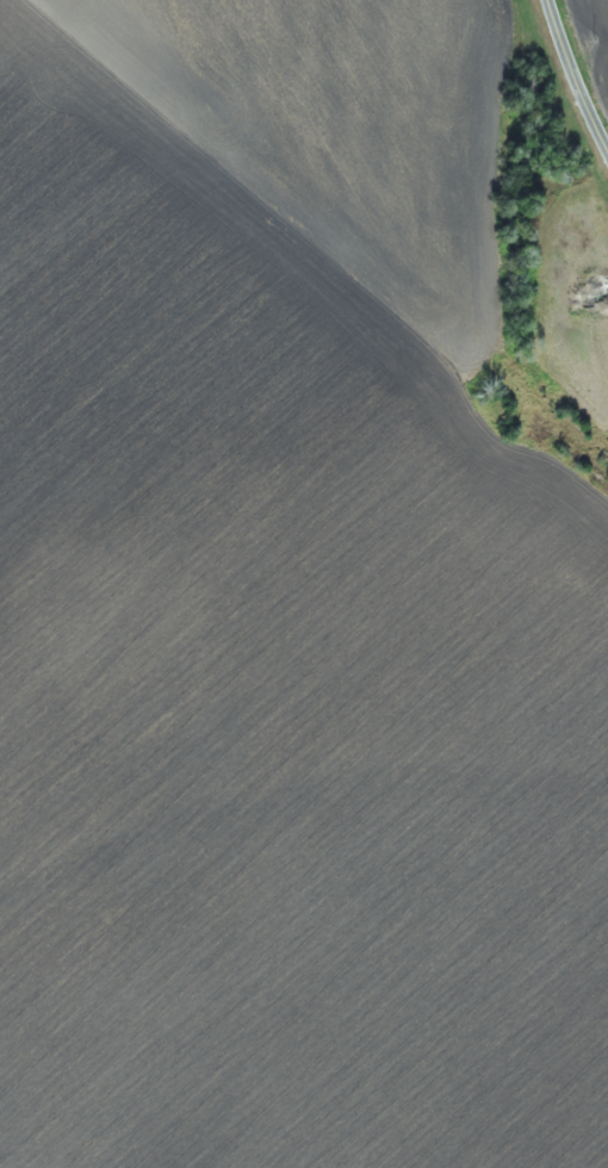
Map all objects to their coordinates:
road: (572, 79)

